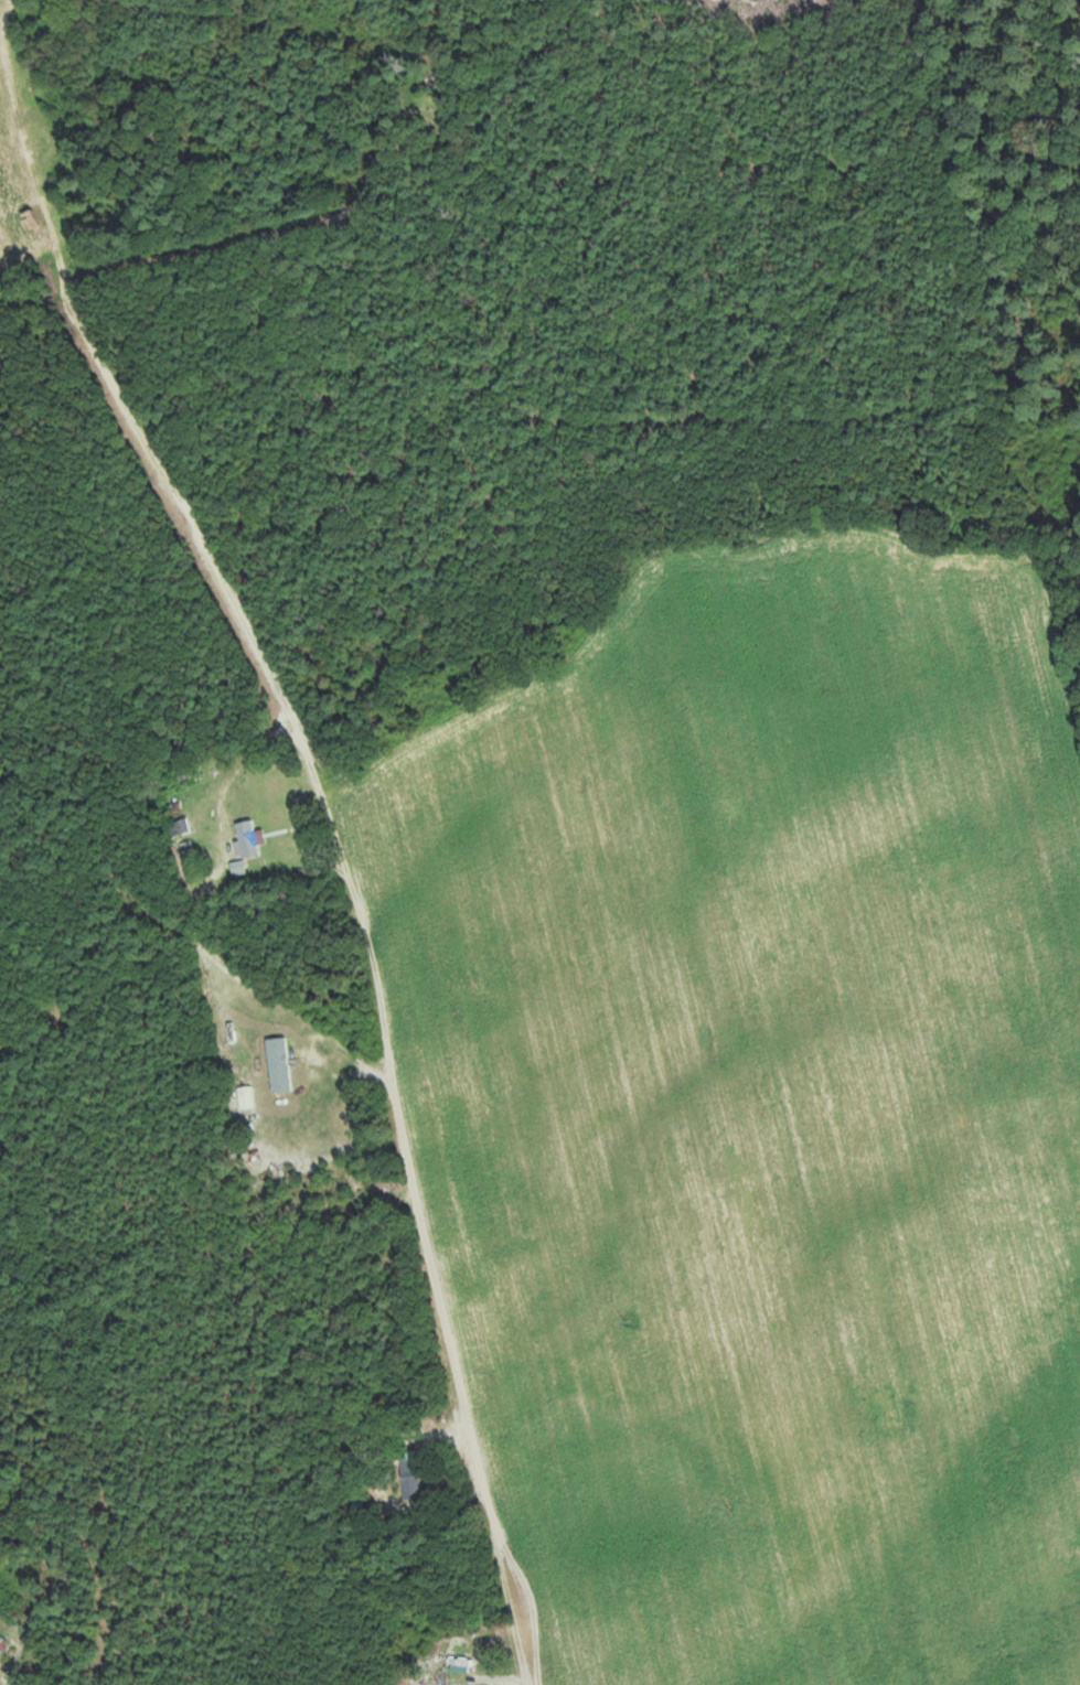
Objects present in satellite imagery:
building: (425, 82)
building: (182, 827)
building: (249, 838)
road: (323, 846)
building: (280, 1064)
building: (247, 1097)
building: (411, 1479)
building: (3, 1643)
building: (0, 1684)

